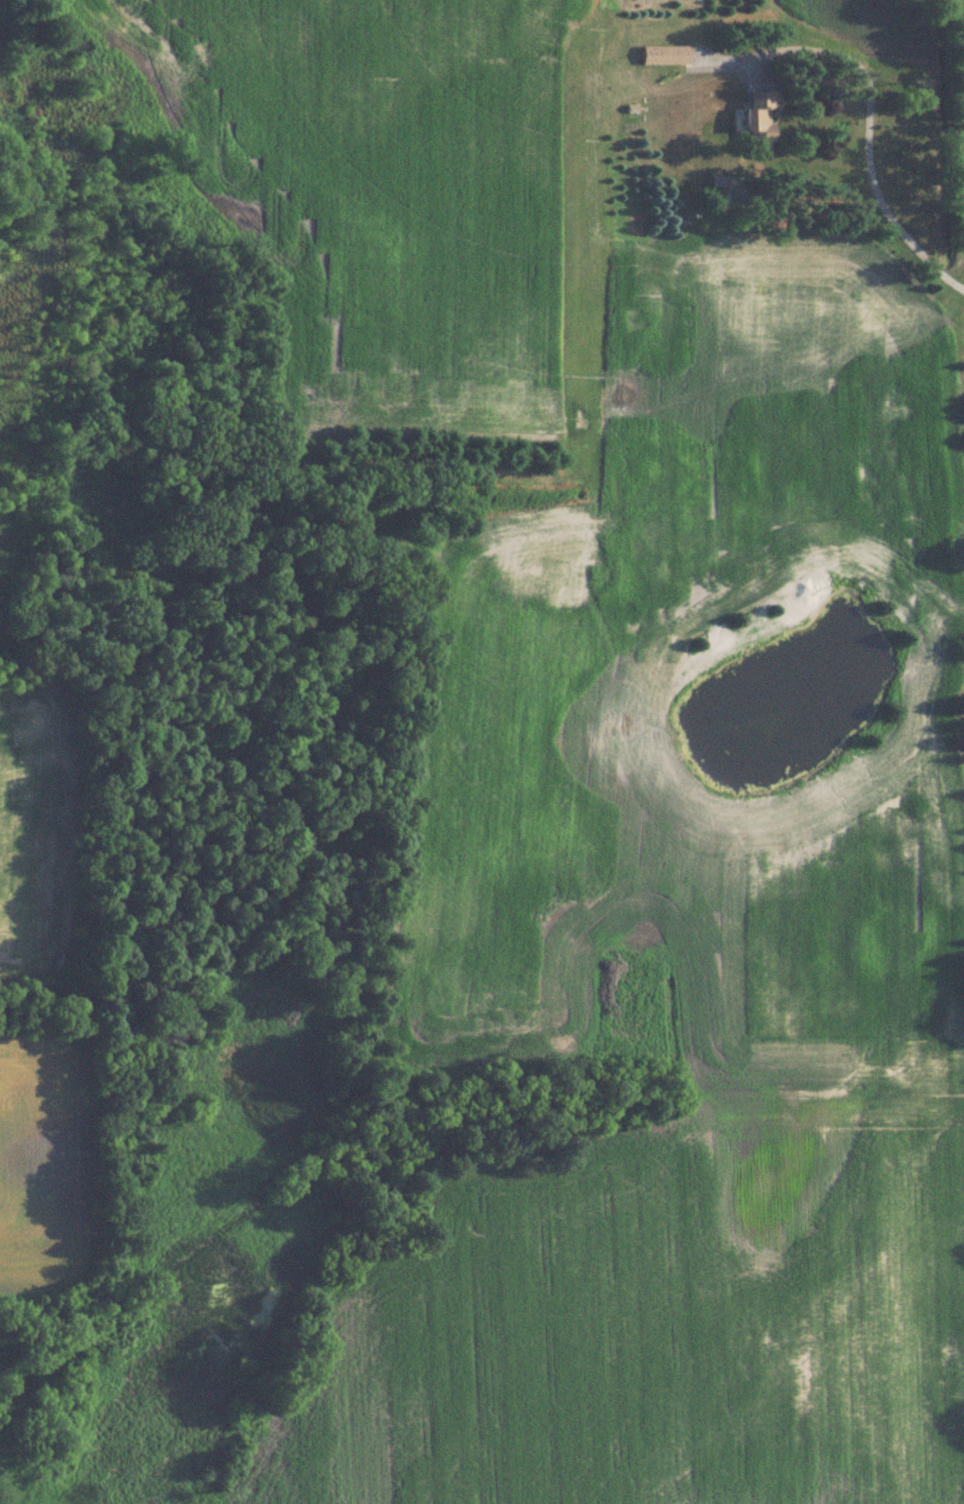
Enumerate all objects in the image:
building: (663, 53)
building: (756, 114)
road: (869, 119)

